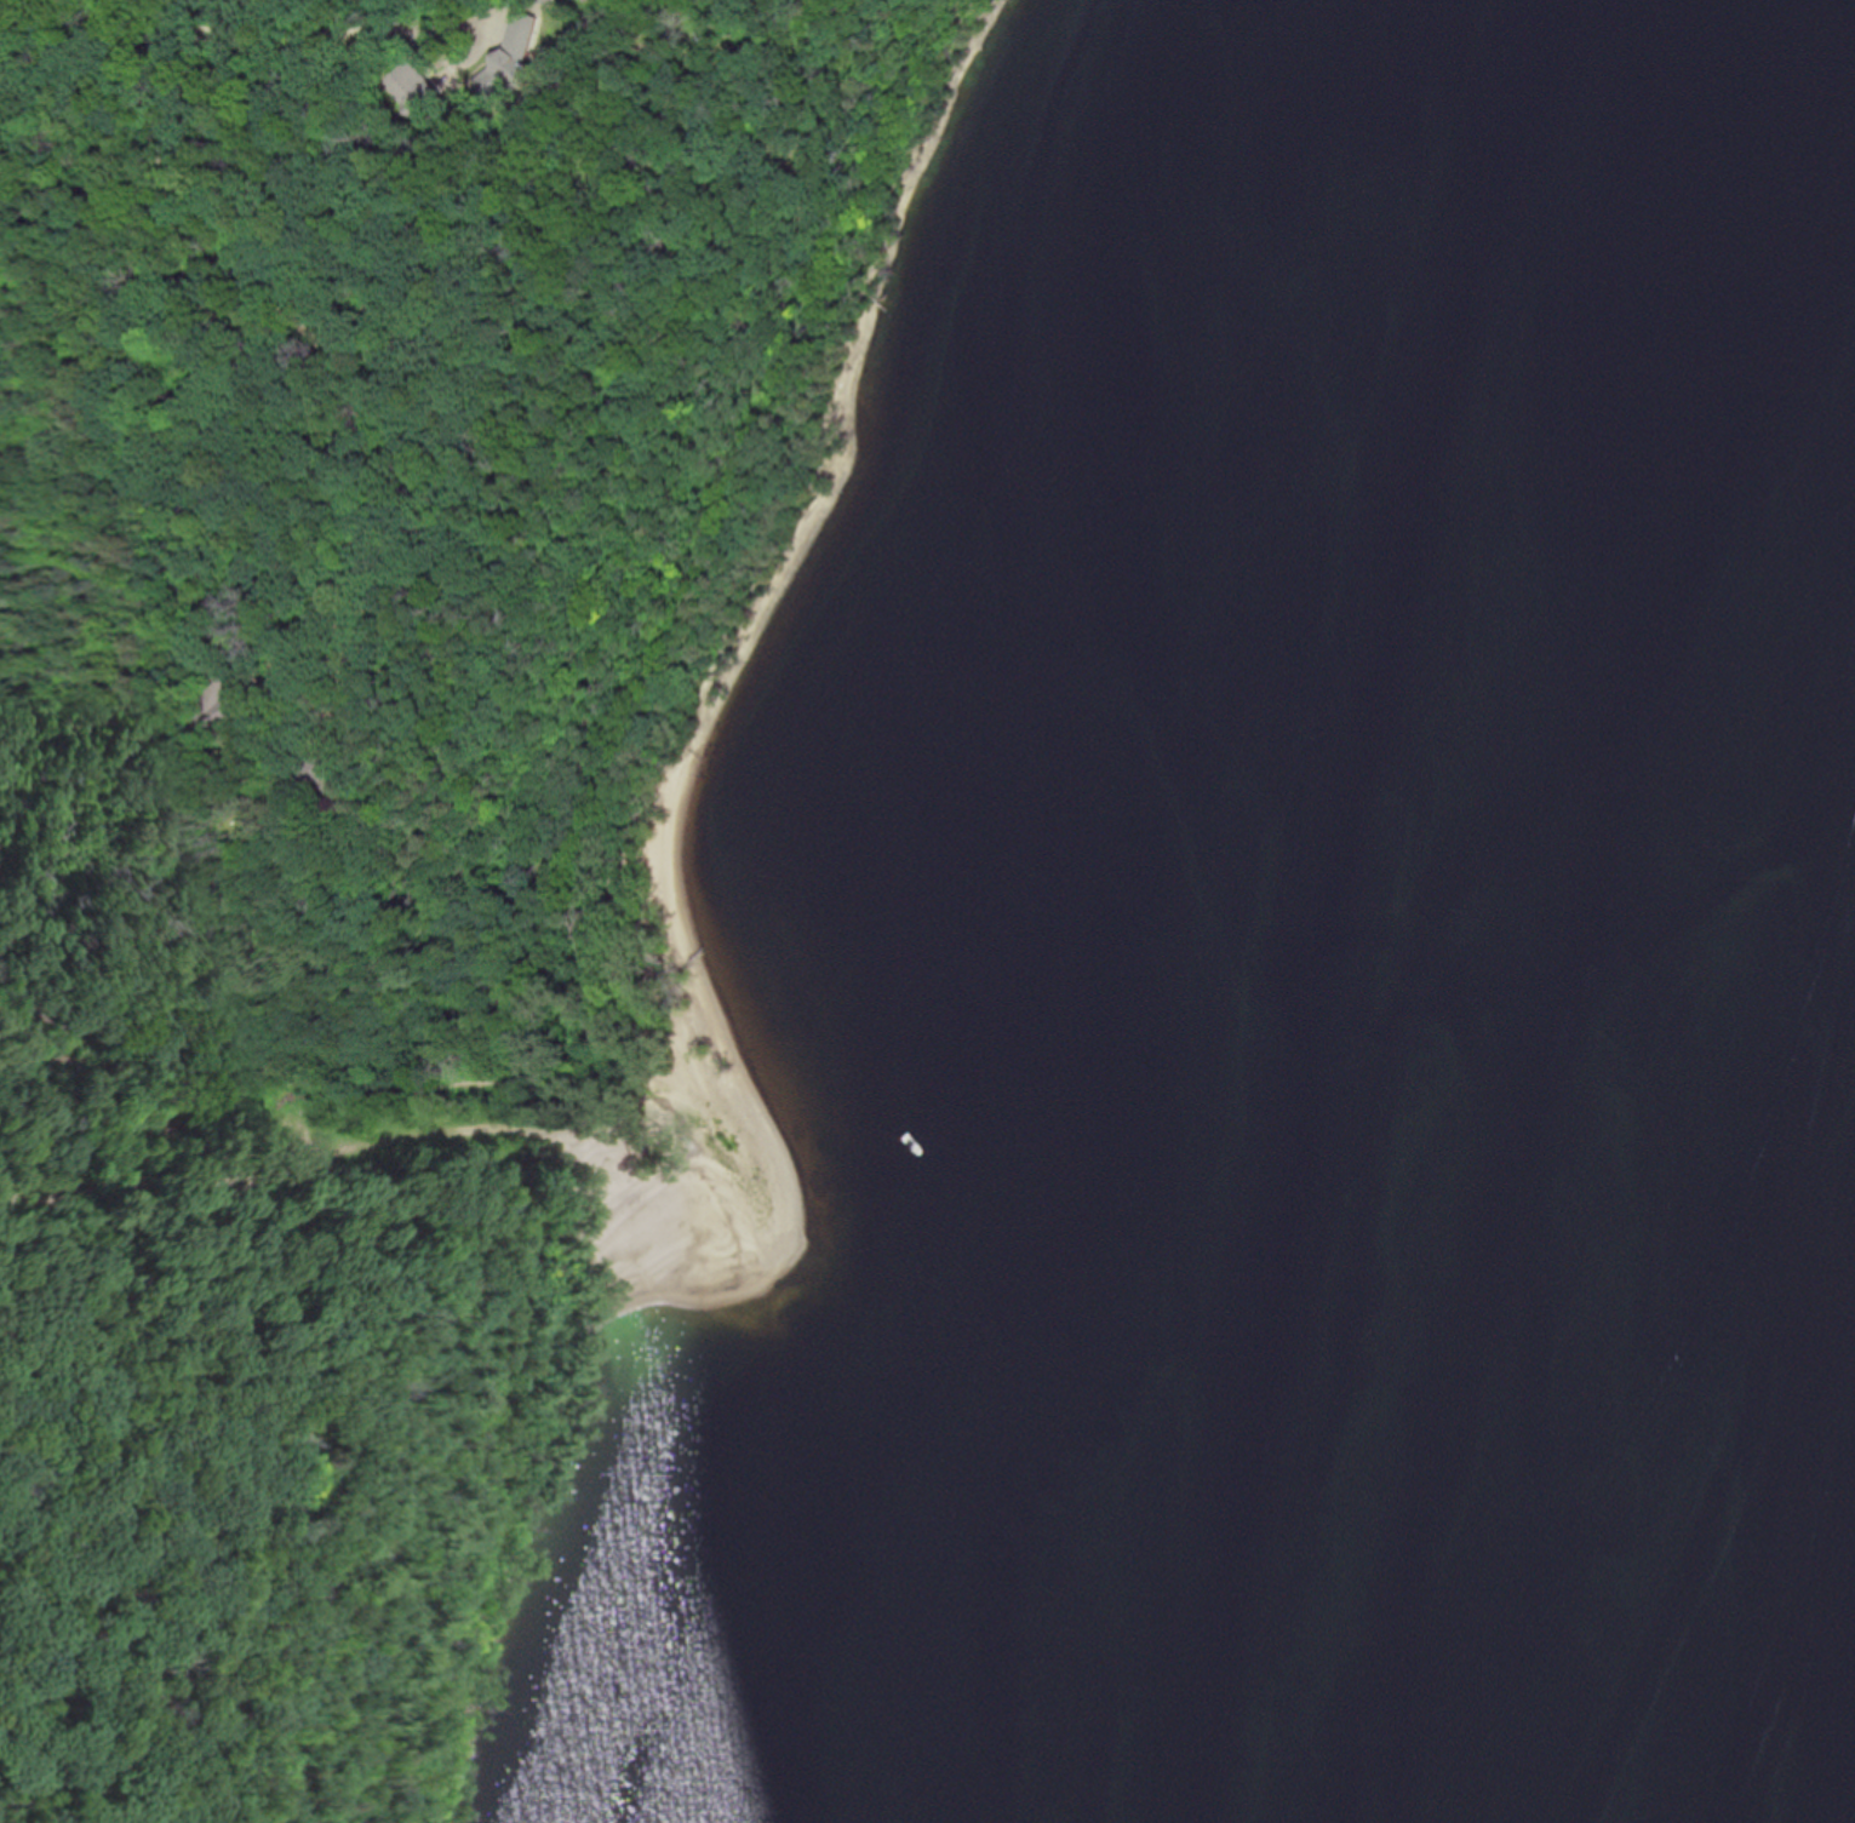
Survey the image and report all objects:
road: (268, 48)
building: (516, 53)
building: (413, 88)
building: (222, 699)
building: (313, 769)
river: (1553, 1044)
park: (296, 1342)
building: (287, 1458)

